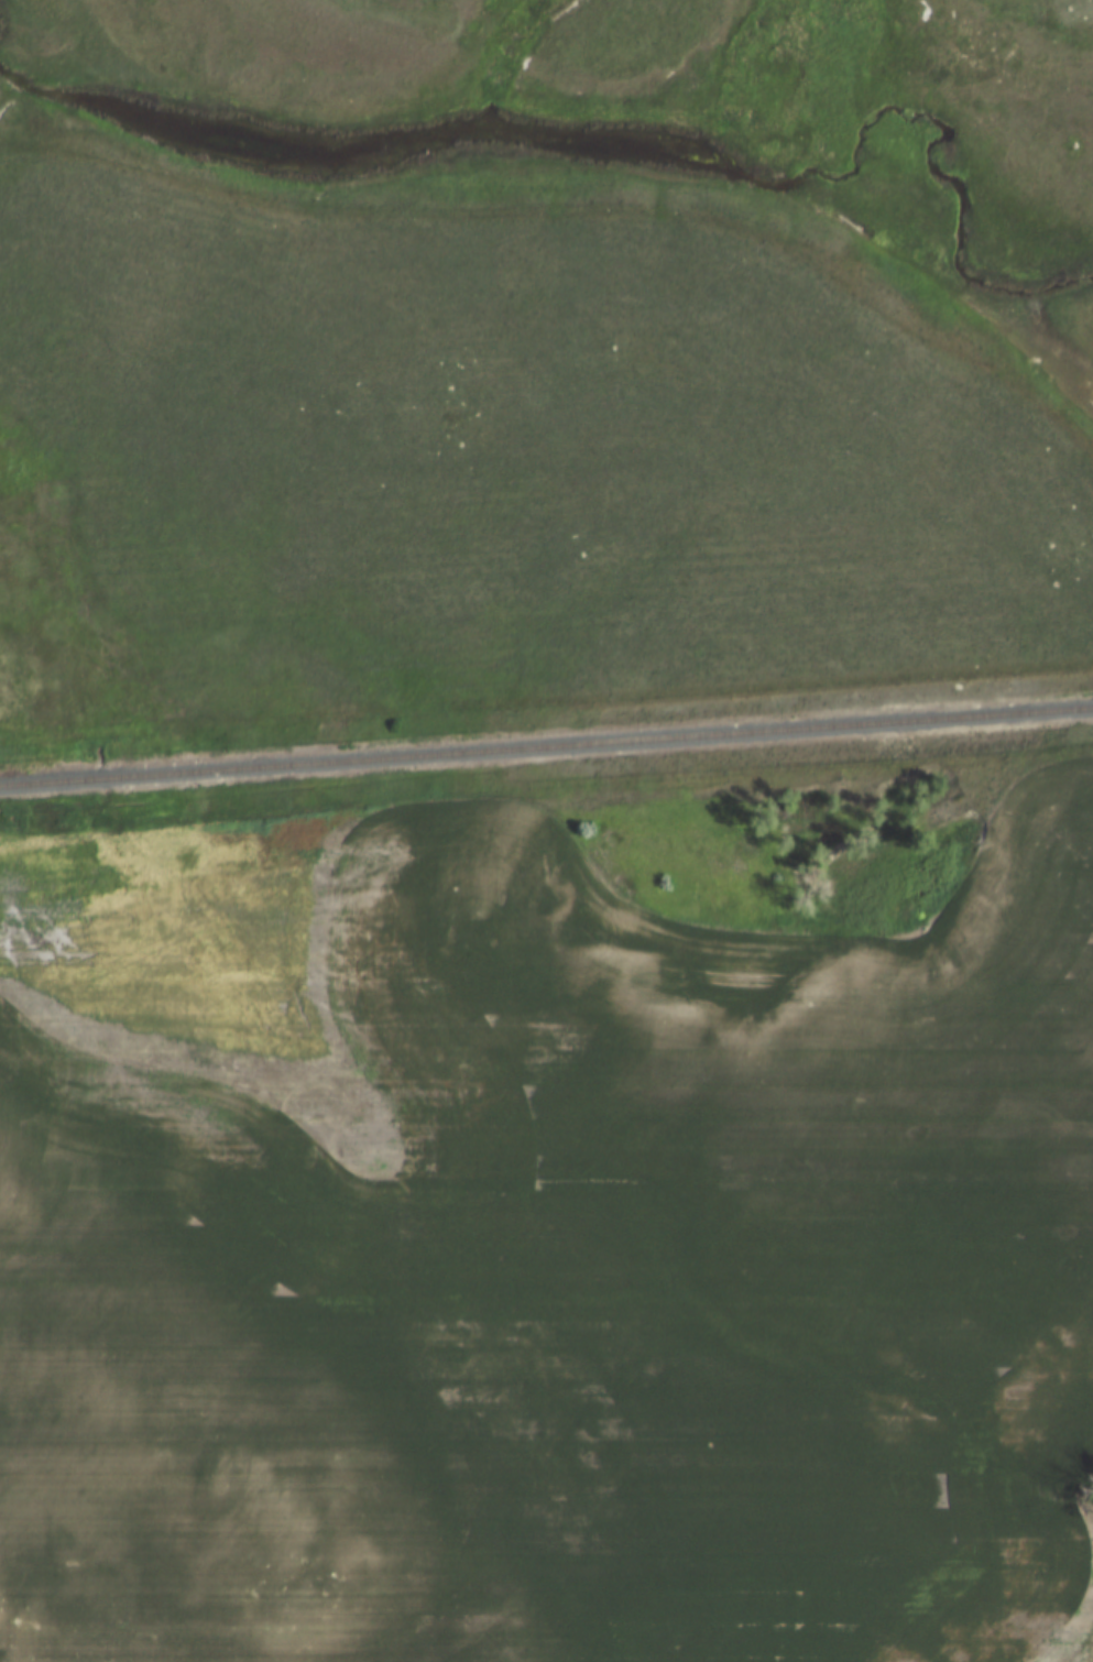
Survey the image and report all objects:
railway: (546, 743)

